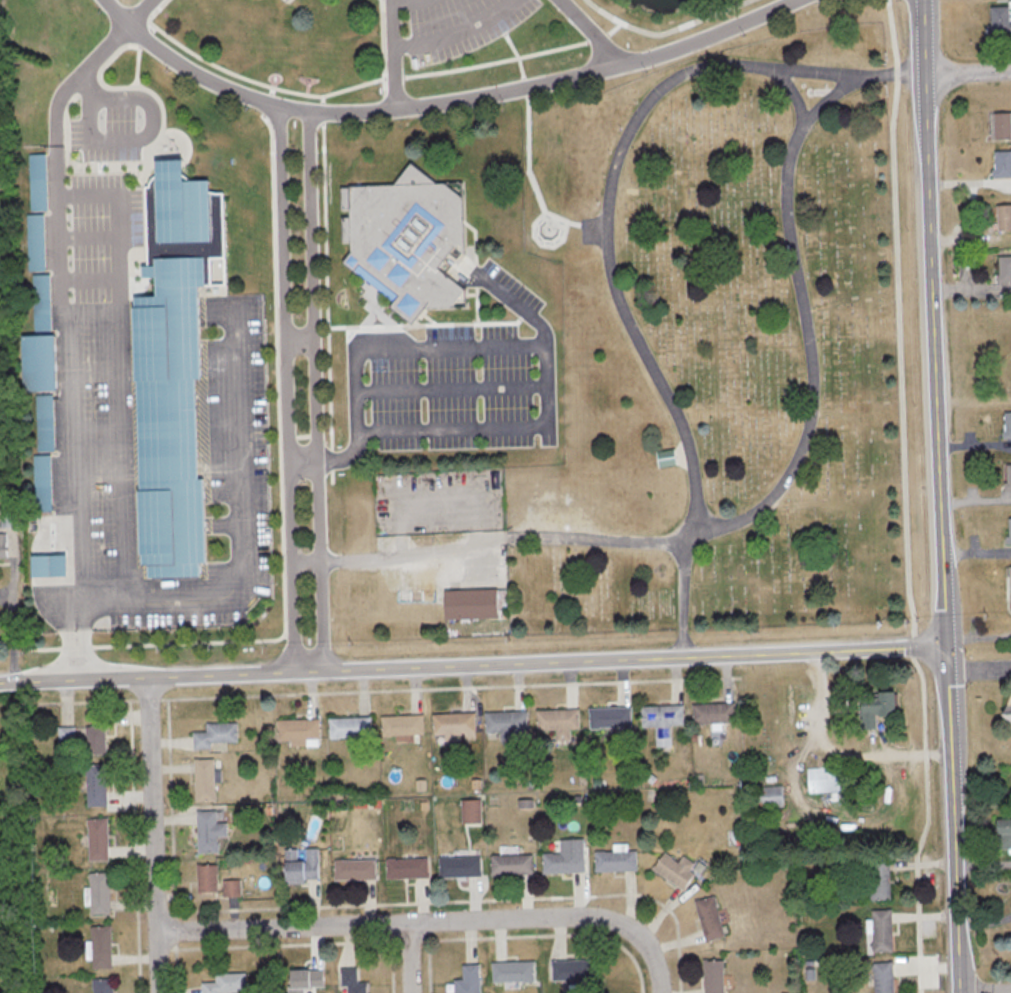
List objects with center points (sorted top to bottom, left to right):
building: (289, 1)
road: (404, 1)
road: (159, 10)
road: (145, 11)
building: (1001, 19)
parking lot: (450, 25)
road: (455, 29)
road: (672, 30)
road: (597, 31)
road: (149, 33)
road: (388, 39)
road: (397, 54)
road: (510, 58)
road: (968, 70)
road: (266, 83)
road: (794, 97)
road: (448, 101)
road: (168, 114)
road: (273, 123)
building: (1003, 125)
road: (533, 137)
road: (133, 139)
building: (1003, 164)
building: (41, 183)
building: (1004, 217)
parking lot: (594, 231)
building: (408, 242)
building: (38, 243)
road: (609, 267)
building: (1005, 269)
building: (44, 303)
road: (482, 304)
road: (332, 305)
road: (381, 309)
road: (375, 318)
road: (65, 336)
road: (302, 337)
road: (415, 346)
building: (42, 360)
building: (177, 368)
road: (122, 371)
park: (686, 376)
road: (283, 383)
road: (292, 387)
road: (456, 388)
road: (314, 389)
parking lot: (460, 390)
road: (335, 404)
building: (47, 423)
building: (1007, 424)
road: (508, 425)
road: (311, 435)
building: (669, 459)
road: (305, 460)
building: (1009, 476)
road: (784, 483)
building: (45, 484)
road: (944, 496)
building: (9, 517)
road: (245, 526)
building: (1010, 530)
building: (3, 545)
building: (52, 564)
building: (477, 605)
road: (160, 644)
traffic signals: (955, 644)
road: (477, 664)
road: (983, 667)
building: (716, 713)
building: (1009, 713)
building: (611, 717)
building: (663, 721)
building: (560, 722)
building: (507, 723)
building: (404, 725)
building: (456, 726)
building: (351, 727)
building: (299, 730)
building: (217, 734)
building: (67, 735)
building: (96, 739)
road: (843, 752)
building: (206, 778)
building: (828, 779)
building: (97, 784)
building: (772, 796)
building: (473, 811)
building: (210, 831)
road: (153, 835)
building: (99, 839)
building: (568, 857)
building: (617, 860)
road: (986, 862)
building: (303, 864)
building: (514, 864)
building: (461, 865)
building: (356, 868)
building: (408, 868)
building: (208, 877)
building: (881, 877)
building: (233, 887)
building: (100, 893)
building: (711, 918)
road: (429, 920)
road: (987, 921)
building: (883, 930)
building: (102, 946)
road: (409, 957)
building: (575, 970)
building: (515, 971)
building: (716, 976)
building: (884, 977)
building: (309, 978)
building: (470, 979)
building: (354, 981)
building: (227, 983)
building: (104, 985)
road: (988, 988)

